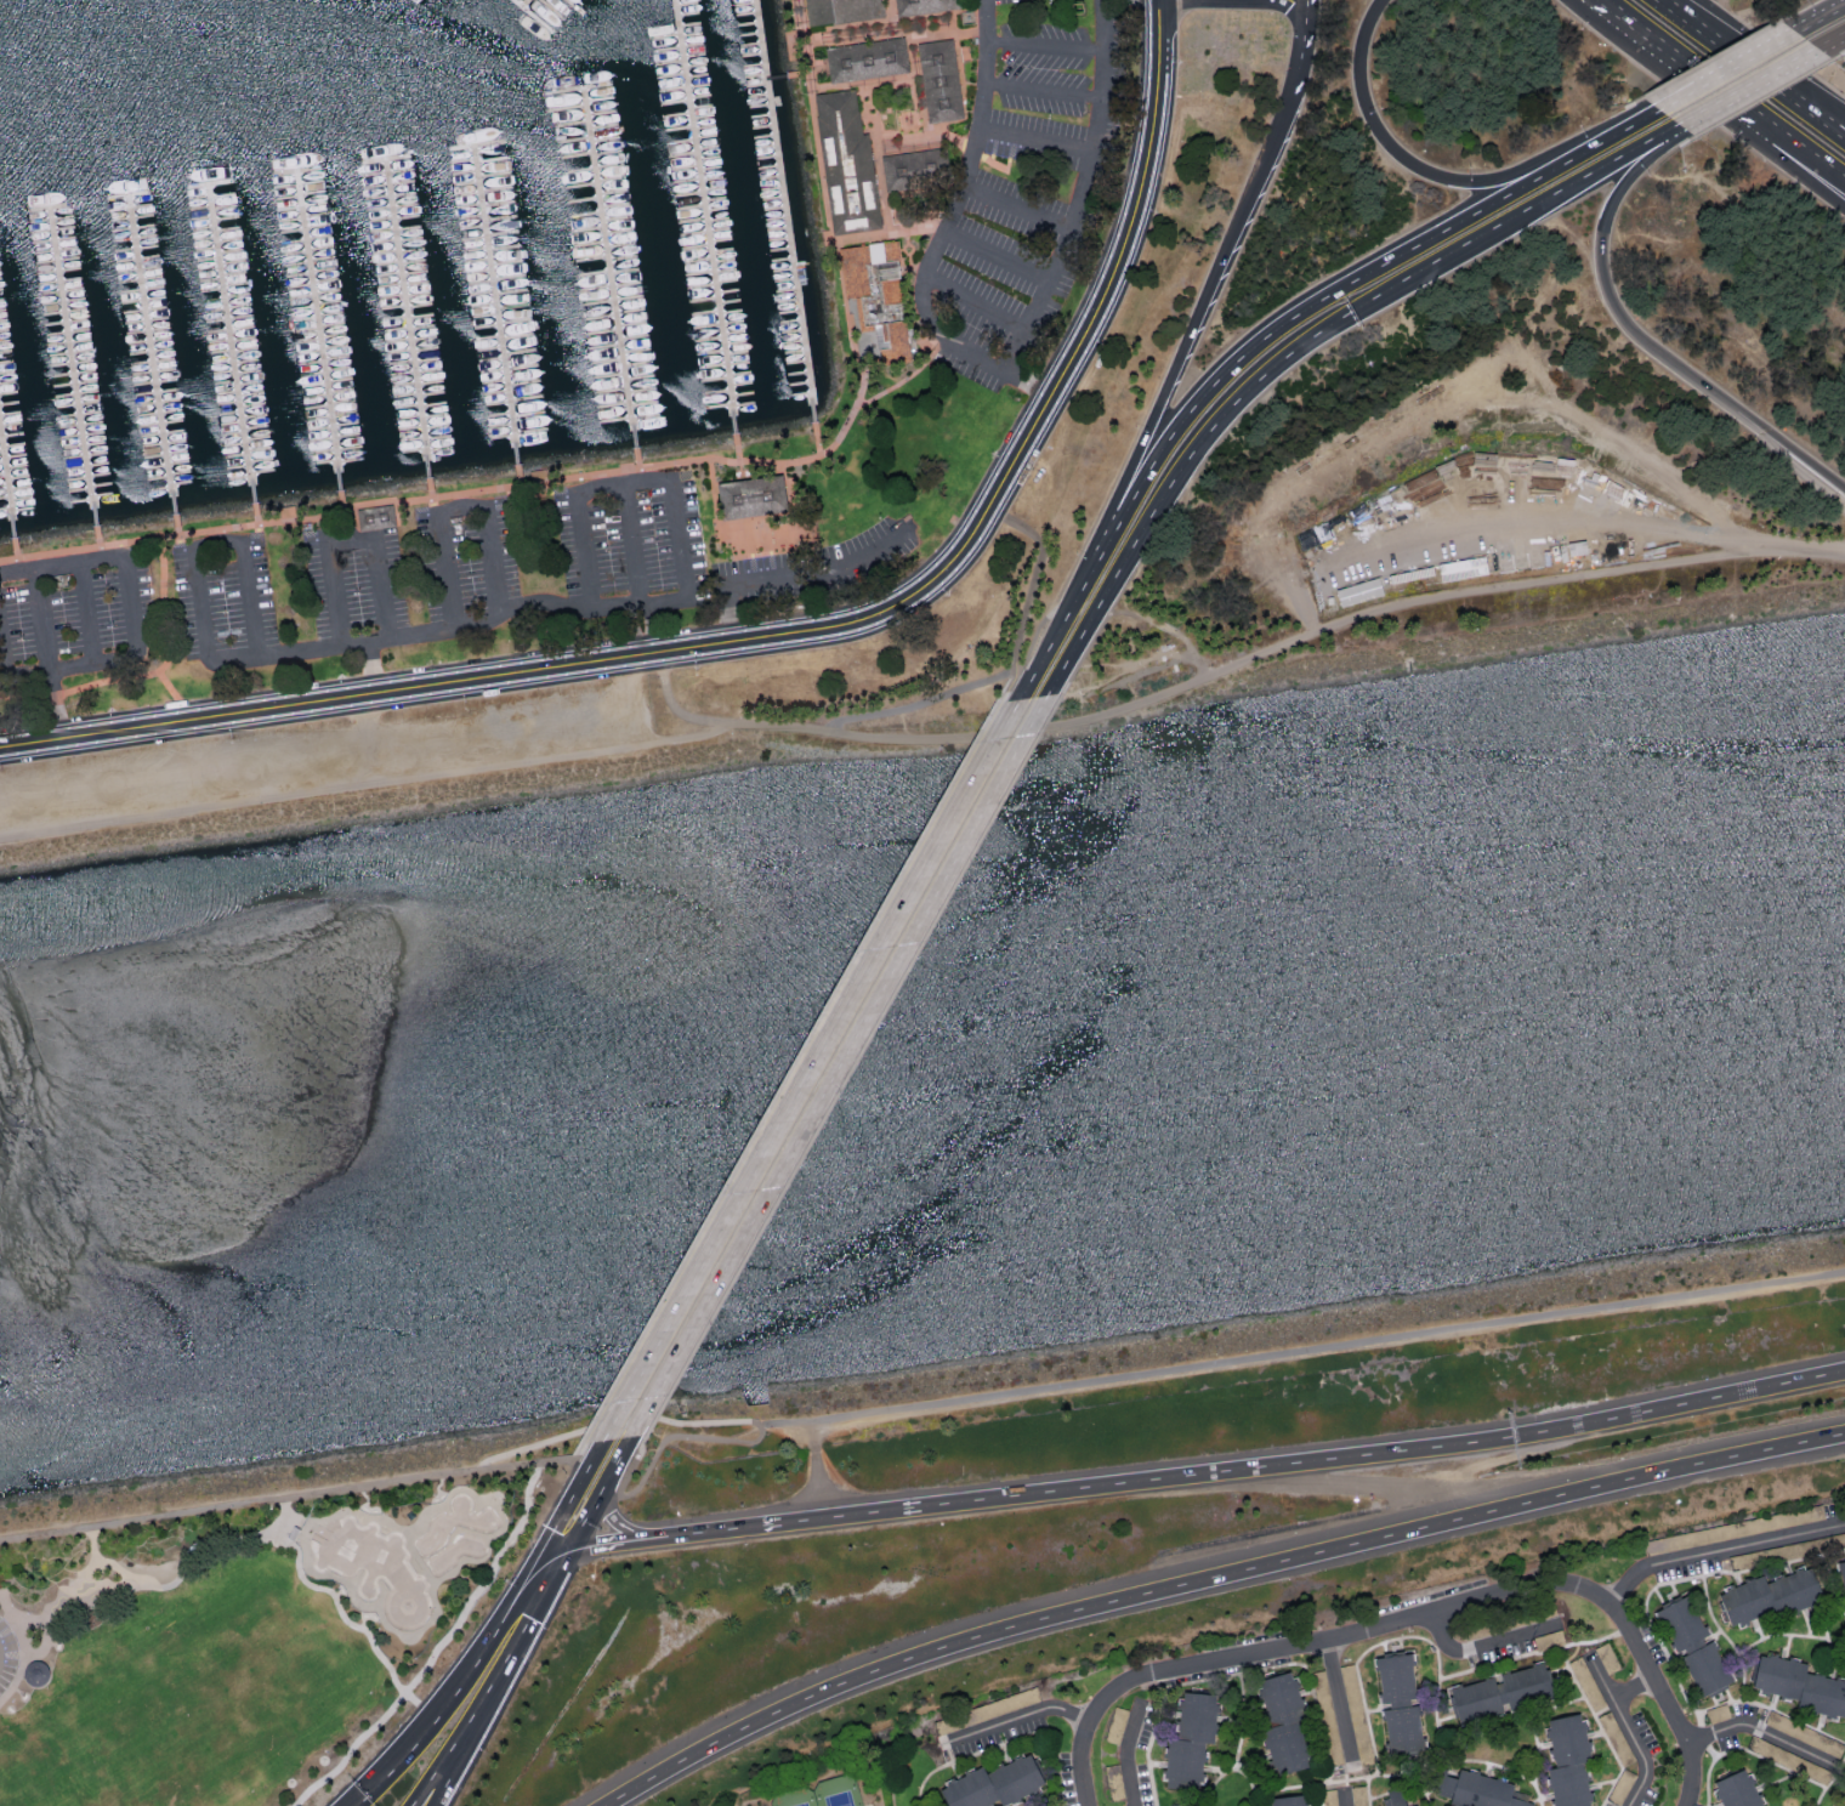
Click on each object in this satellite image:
road: (1102, 0)
pier: (524, 4)
building: (924, 5)
road: (1596, 7)
road: (1602, 7)
building: (844, 10)
road: (1815, 12)
road: (891, 15)
road: (898, 28)
road: (1829, 40)
road: (1043, 46)
road: (1305, 49)
building: (868, 59)
road: (1719, 64)
road: (1755, 68)
road: (796, 73)
pier: (776, 76)
building: (941, 81)
road: (1743, 85)
road: (1039, 92)
road: (1721, 97)
road: (1601, 132)
road: (1032, 137)
road: (1844, 137)
road: (1844, 137)
road: (1398, 152)
building: (848, 163)
building: (915, 169)
parking lot: (1020, 180)
road: (1839, 183)
road: (1078, 192)
road: (1015, 206)
pier: (784, 209)
pier: (704, 218)
road: (943, 231)
road: (887, 234)
road: (994, 255)
pier: (608, 268)
building: (878, 300)
road: (973, 301)
pier: (495, 306)
pier: (407, 319)
road: (1197, 322)
road: (1340, 322)
pier: (318, 331)
road: (1641, 337)
pier: (232, 345)
pier: (151, 354)
road: (1221, 365)
pier: (73, 368)
road: (1026, 433)
road: (737, 450)
road: (637, 465)
road: (645, 467)
road: (518, 476)
road: (649, 479)
pier: (7, 487)
road: (711, 490)
road: (428, 495)
building: (755, 499)
road: (341, 501)
road: (256, 516)
road: (176, 526)
road: (323, 530)
road: (242, 533)
building: (771, 534)
road: (348, 539)
road: (629, 541)
road: (488, 543)
road: (97, 544)
road: (814, 546)
road: (15, 549)
road: (121, 556)
road: (788, 574)
road: (1029, 586)
building: (1358, 591)
road: (198, 597)
road: (589, 607)
road: (87, 613)
road: (1159, 624)
road: (1035, 631)
road: (1083, 651)
road: (1068, 653)
road: (370, 666)
road: (1230, 666)
road: (144, 672)
road: (1125, 677)
road: (174, 694)
road: (328, 698)
road: (919, 702)
road: (56, 704)
road: (365, 720)
parking lot: (319, 751)
road: (316, 754)
road: (364, 783)
river: (923, 805)
road: (852, 1063)
road: (836, 1066)
road: (810, 1069)
road: (789, 1075)
road: (1157, 1370)
road: (669, 1436)
road: (641, 1449)
road: (595, 1450)
road: (1385, 1455)
road: (533, 1463)
road: (613, 1464)
road: (438, 1484)
road: (365, 1495)
road: (239, 1504)
road: (560, 1513)
road: (285, 1515)
road: (850, 1518)
road: (581, 1521)
road: (626, 1529)
road: (726, 1532)
road: (239, 1537)
building: (1682, 1539)
road: (619, 1545)
road: (1711, 1547)
park: (402, 1552)
traffic signals: (564, 1552)
road: (545, 1557)
road: (109, 1566)
building: (1841, 1578)
road: (1215, 1579)
building: (1767, 1595)
road: (1408, 1615)
road: (529, 1619)
road: (362, 1622)
building: (1549, 1639)
park: (244, 1641)
building: (1692, 1645)
road: (44, 1646)
road: (437, 1647)
road: (24, 1648)
road: (1468, 1649)
parking lot: (6, 1657)
building: (1607, 1657)
building: (38, 1674)
road: (1600, 1676)
building: (1349, 1680)
building: (1586, 1682)
building: (1798, 1683)
road: (447, 1692)
building: (1497, 1693)
road: (1338, 1698)
building: (1398, 1702)
building: (1325, 1713)
building: (1716, 1713)
road: (1016, 1715)
building: (1281, 1722)
building: (1115, 1723)
road: (475, 1725)
road: (1759, 1730)
road: (1629, 1731)
building: (1804, 1732)
building: (1616, 1737)
building: (1188, 1740)
road: (454, 1745)
road: (1125, 1753)
building: (1788, 1759)
building: (1567, 1760)
building: (992, 1783)
road: (444, 1784)
building: (1620, 1785)
building: (1736, 1789)
building: (1117, 1790)
building: (1478, 1790)
park: (838, 1793)
building: (1359, 1795)
road: (1344, 1796)
building: (1393, 1796)
park: (795, 1798)
building: (1287, 1800)
park: (1843, 1804)
building: (1415, 1805)

